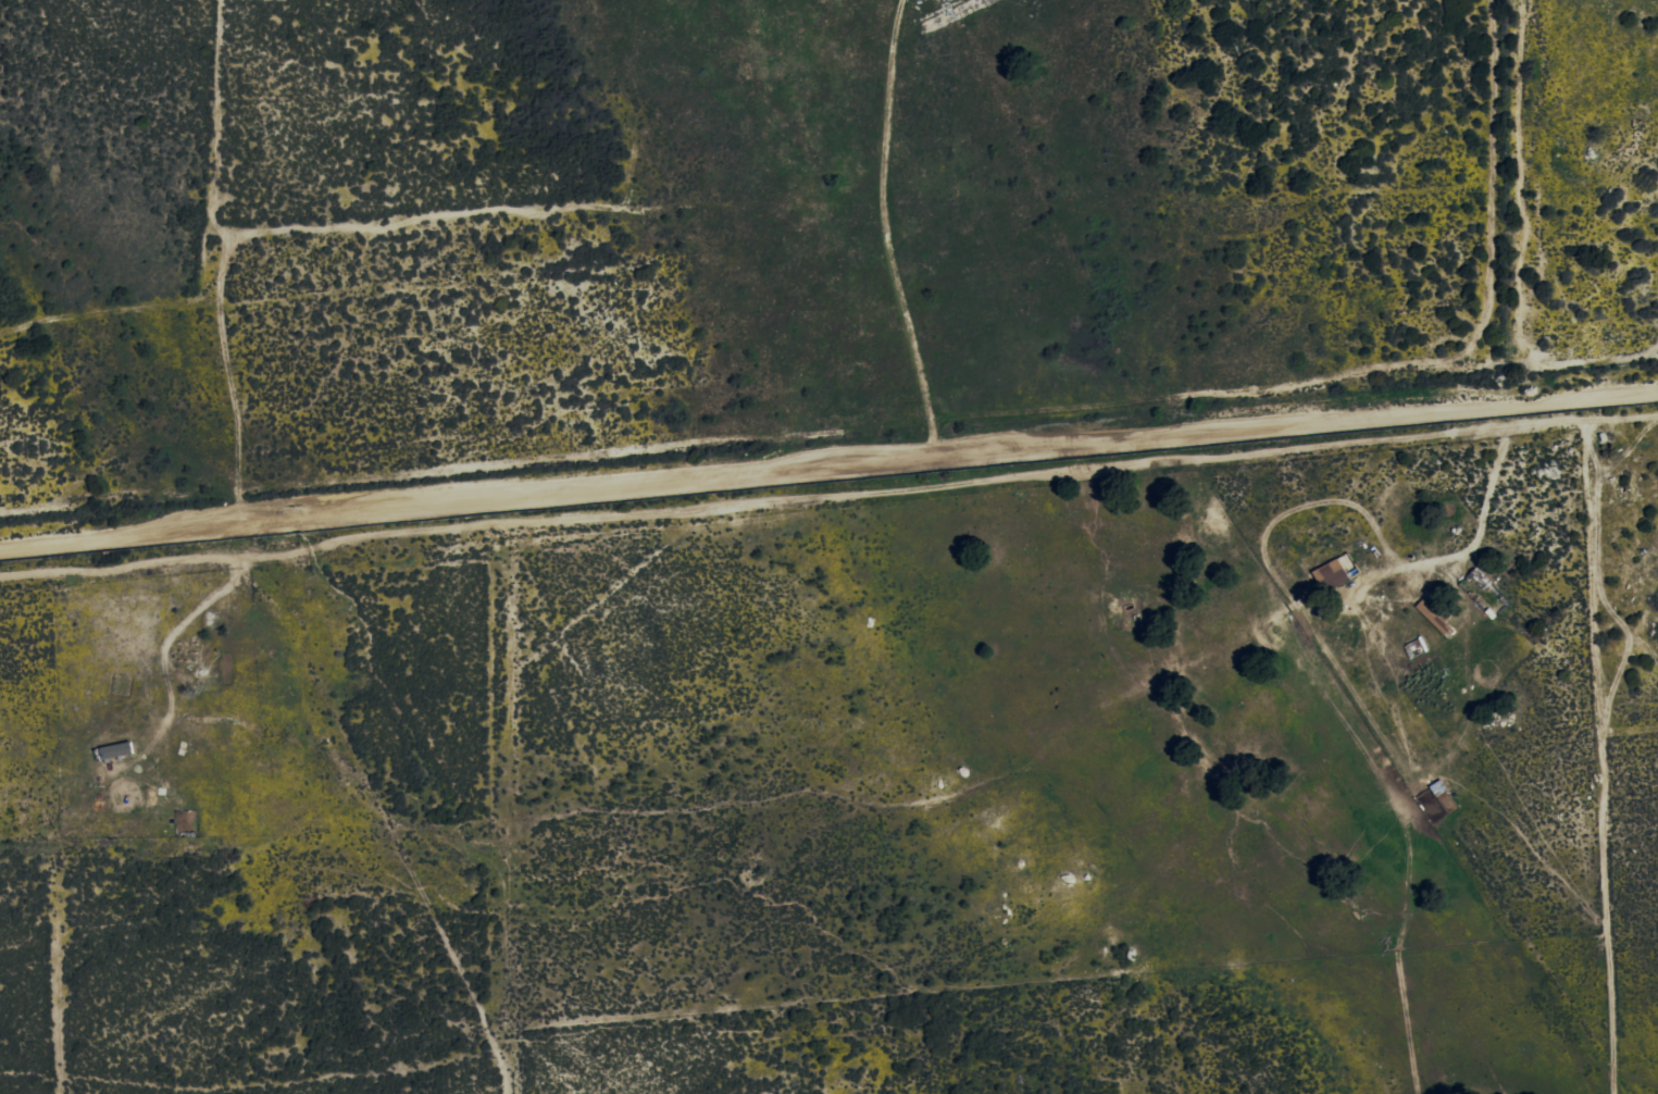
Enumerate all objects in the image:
road: (828, 459)
road: (828, 498)
building: (114, 750)
road: (1599, 757)

